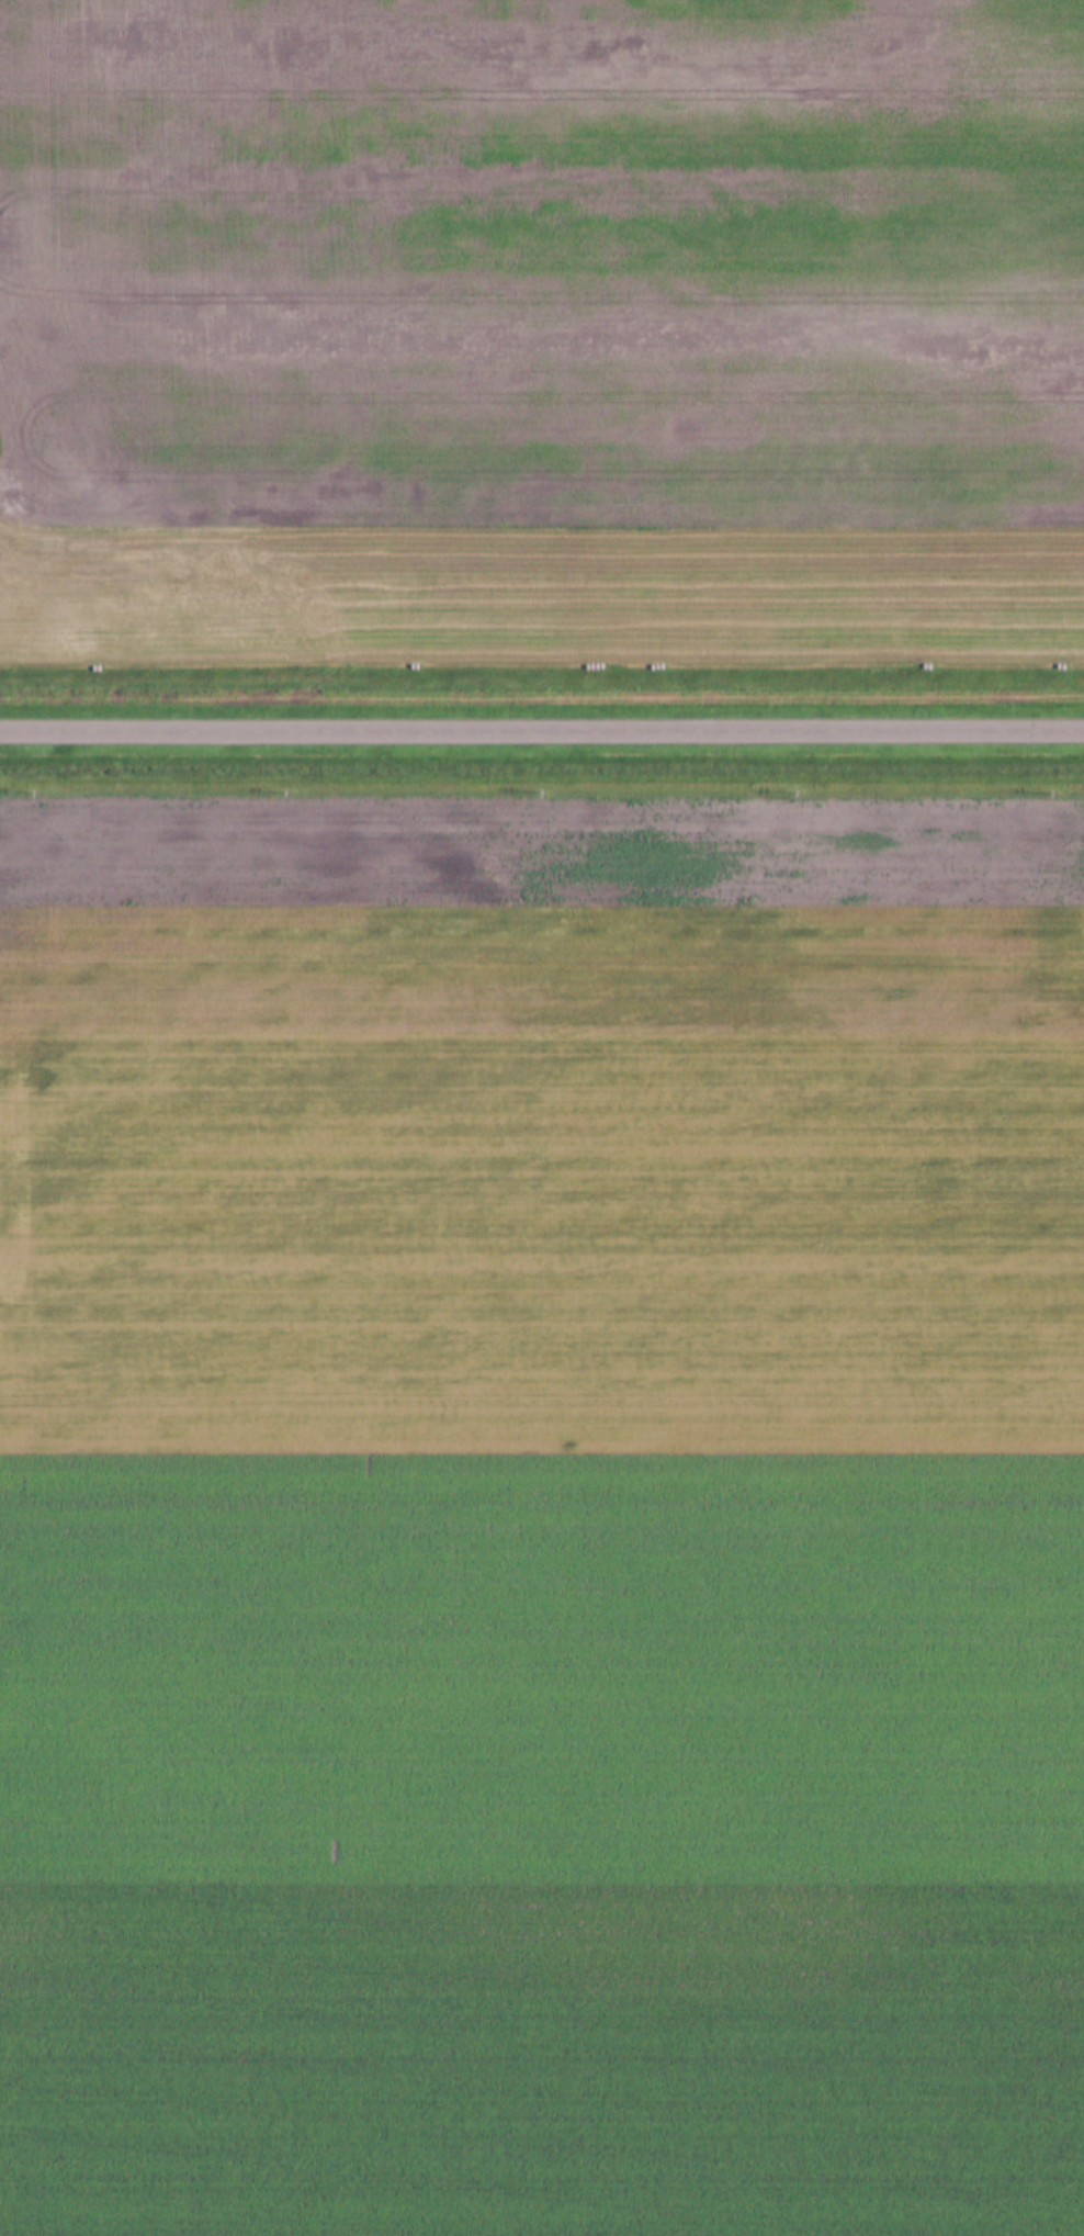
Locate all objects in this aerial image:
road: (542, 732)

